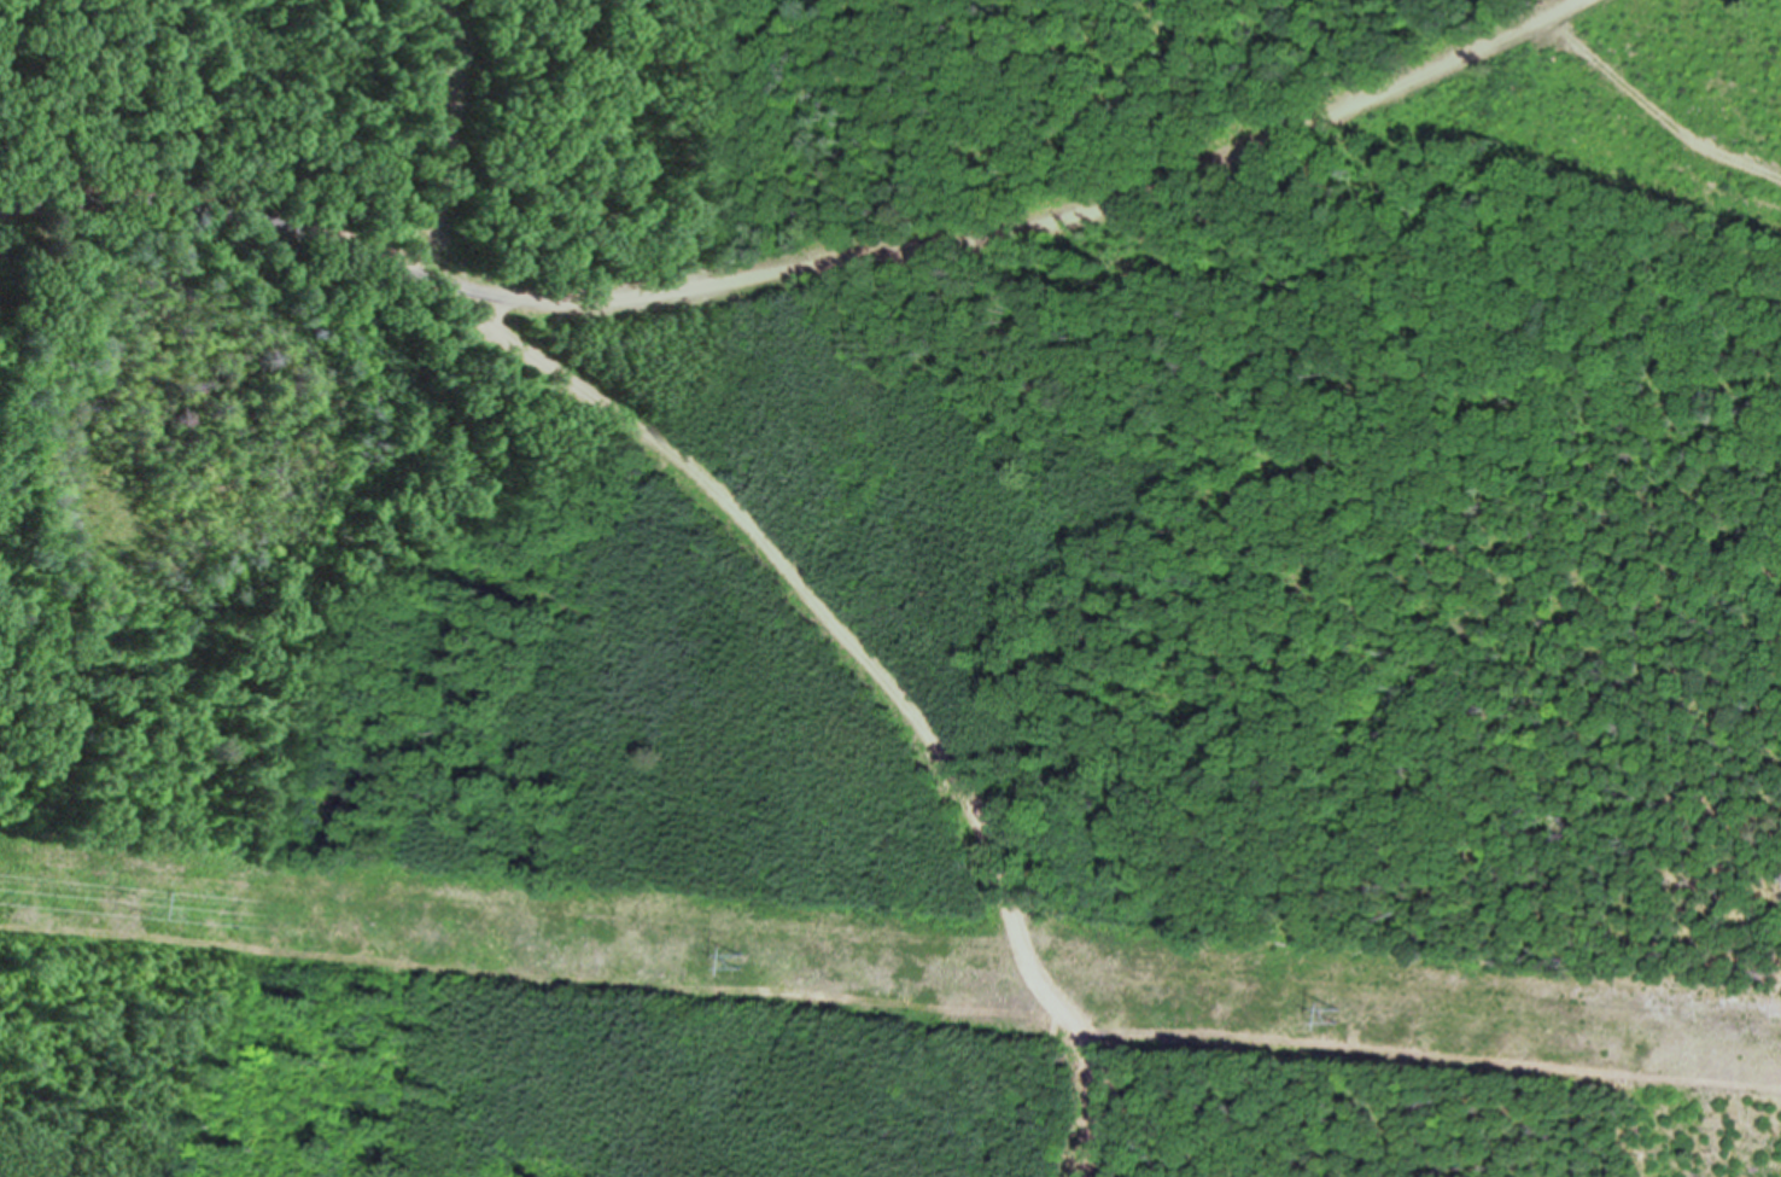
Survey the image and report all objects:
road: (811, 268)
road: (884, 680)
power tower: (162, 910)
power tower: (738, 960)
power tower: (1362, 1020)

